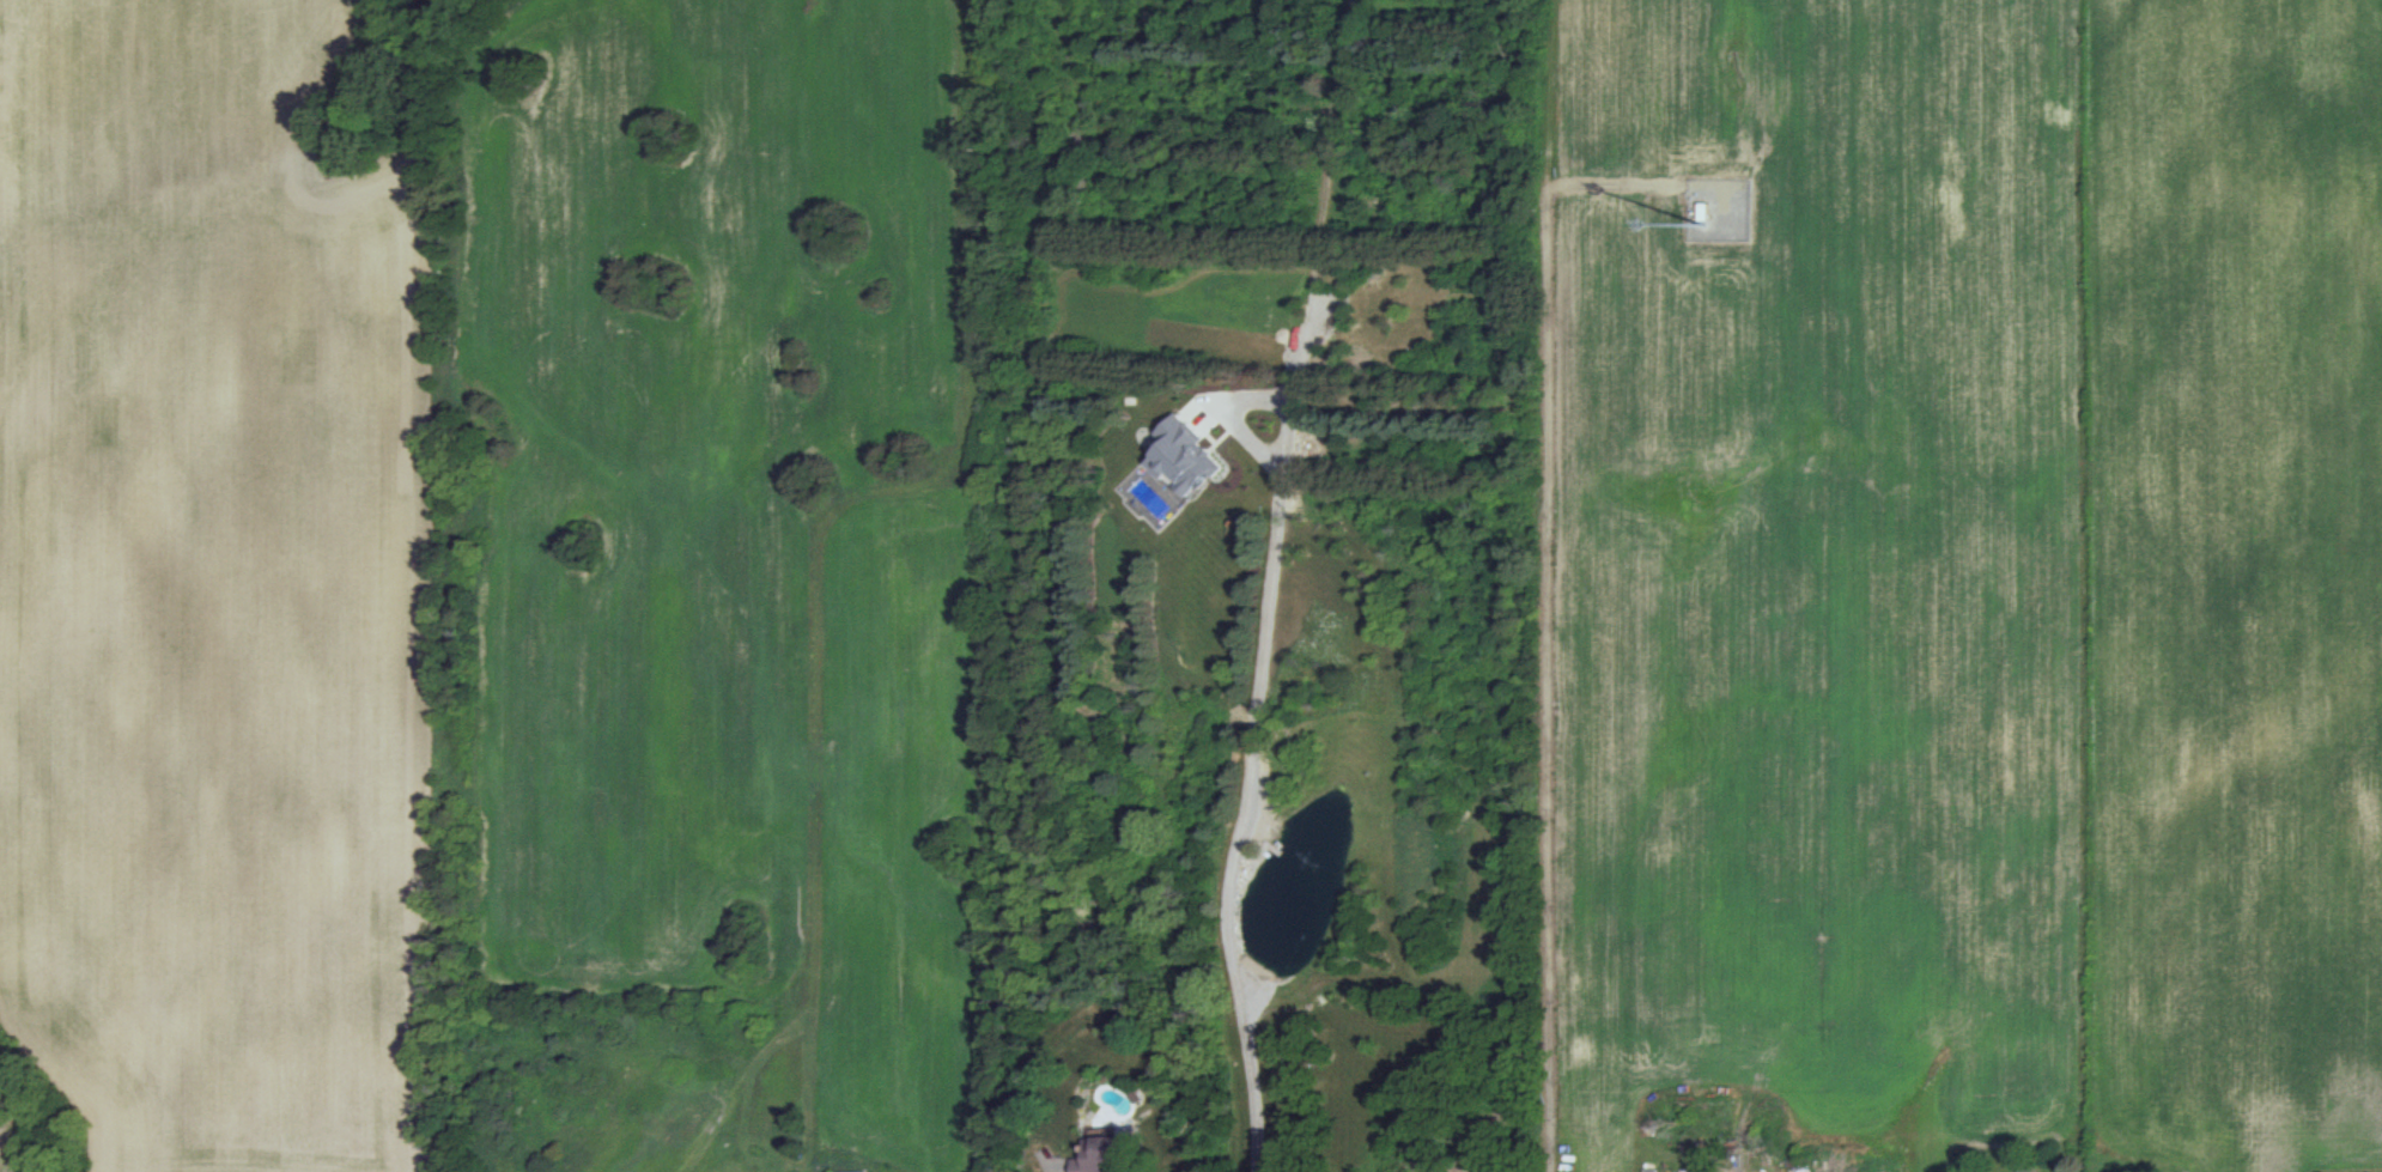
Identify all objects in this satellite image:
building: (1707, 212)
building: (1186, 445)
crop: (1834, 488)
crop: (2238, 585)
crop: (704, 587)
crop: (217, 594)
road: (1554, 614)
road: (1248, 775)
building: (1100, 1152)
building: (1651, 1170)
building: (857, 1171)

